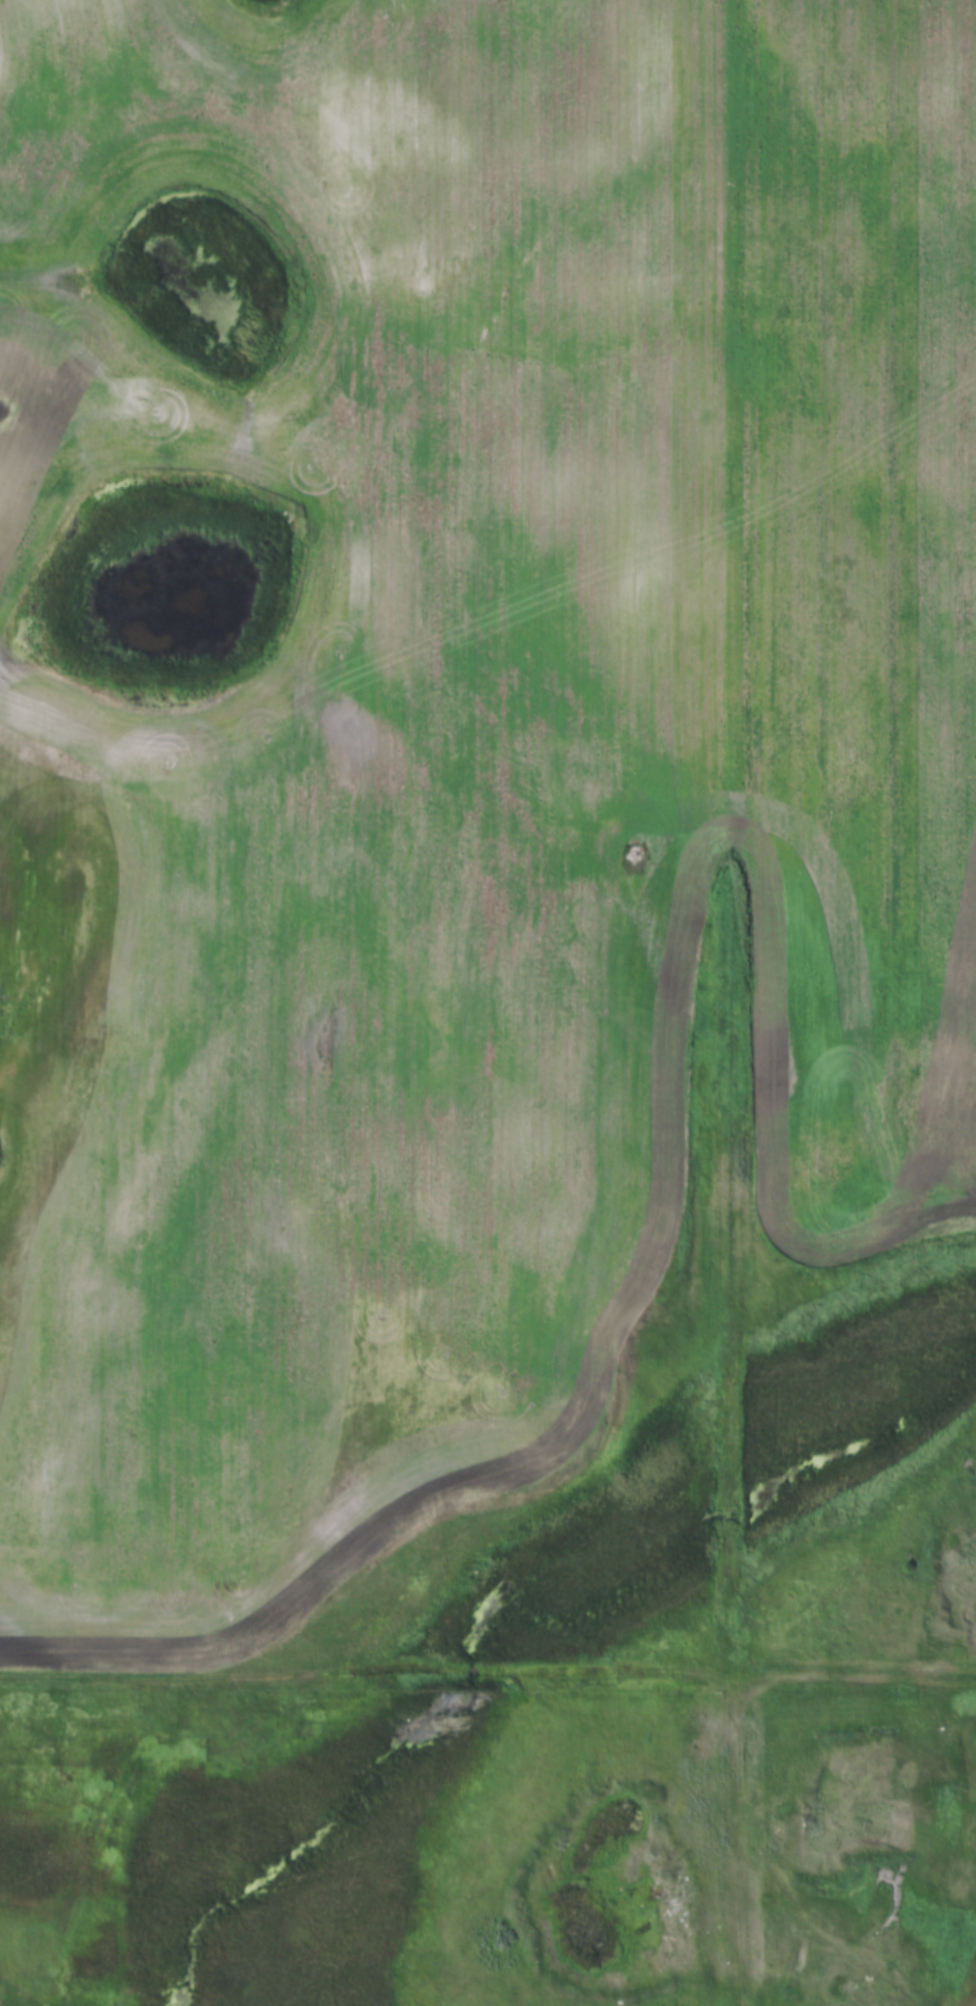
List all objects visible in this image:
road: (487, 1667)
road: (740, 1837)

